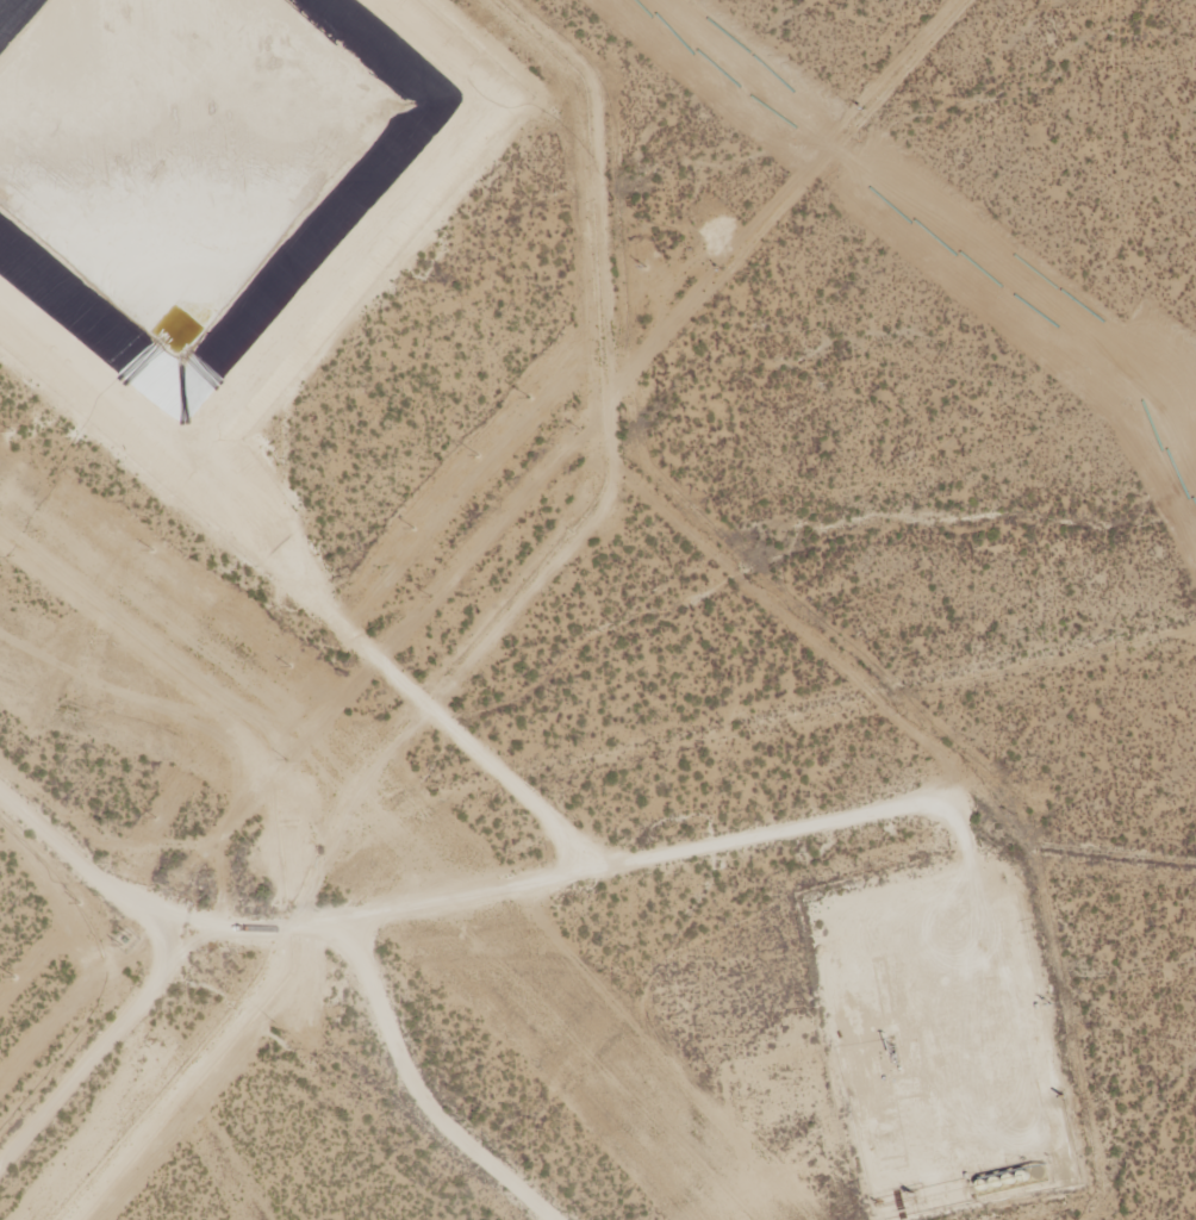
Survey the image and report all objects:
road: (728, 840)
road: (74, 880)
road: (675, 944)
road: (1117, 1009)
road: (75, 1017)

